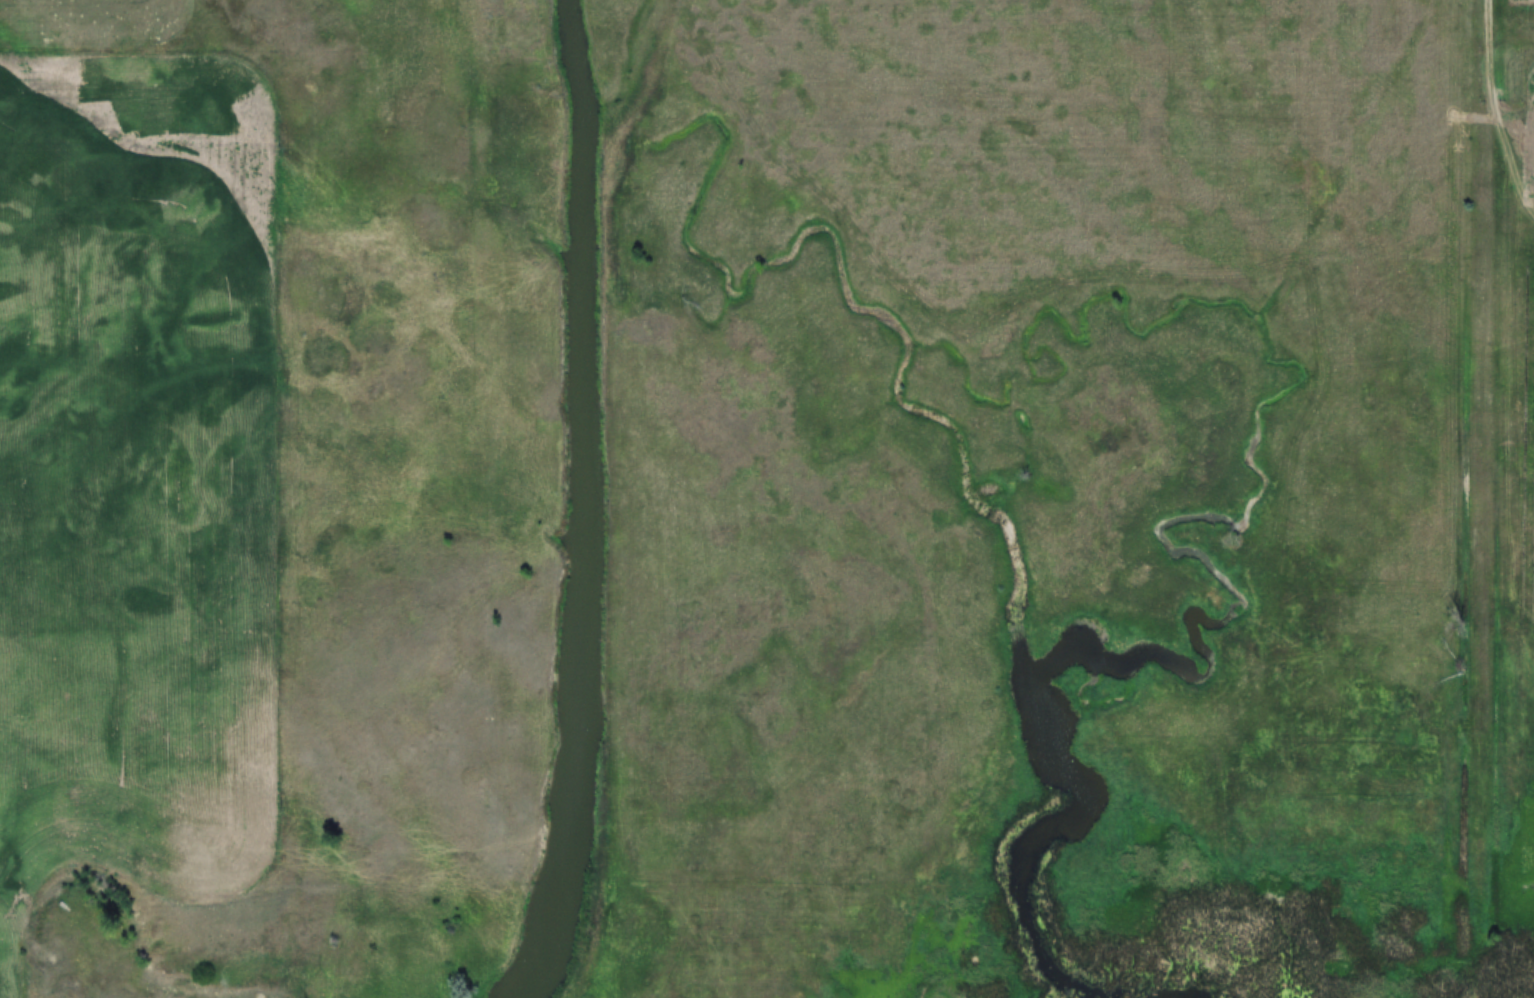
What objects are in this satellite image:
road: (1493, 14)

